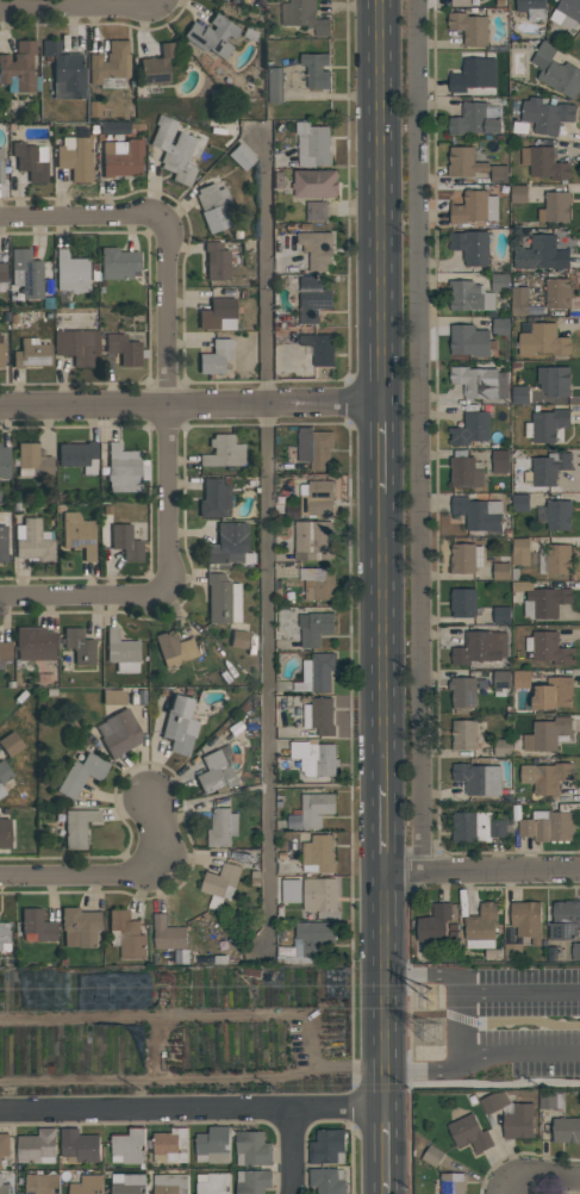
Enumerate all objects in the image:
road: (81, 2)
building: (531, 8)
building: (567, 13)
building: (304, 17)
building: (469, 27)
building: (211, 35)
building: (110, 62)
building: (157, 64)
building: (19, 66)
building: (316, 69)
building: (66, 70)
building: (555, 71)
building: (473, 75)
building: (274, 85)
building: (545, 116)
building: (475, 119)
building: (113, 128)
building: (312, 144)
building: (173, 149)
building: (241, 156)
building: (75, 157)
building: (121, 157)
building: (31, 160)
building: (464, 162)
building: (543, 163)
building: (1, 166)
building: (499, 174)
building: (314, 184)
building: (518, 194)
road: (379, 203)
building: (213, 206)
building: (474, 207)
building: (555, 207)
building: (316, 211)
road: (163, 229)
building: (470, 247)
building: (317, 249)
building: (541, 254)
building: (216, 260)
building: (118, 262)
building: (2, 272)
building: (70, 272)
building: (25, 273)
building: (499, 282)
building: (557, 293)
building: (470, 297)
building: (312, 299)
building: (519, 301)
building: (218, 313)
building: (500, 327)
building: (470, 341)
building: (543, 341)
building: (75, 342)
building: (123, 348)
building: (319, 348)
building: (0, 352)
building: (31, 354)
building: (216, 356)
building: (554, 380)
building: (480, 383)
building: (519, 394)
road: (189, 406)
building: (547, 425)
building: (469, 429)
road: (420, 436)
building: (314, 448)
road: (380, 449)
building: (223, 452)
building: (79, 455)
building: (32, 460)
building: (4, 461)
building: (500, 461)
building: (123, 468)
building: (549, 468)
building: (466, 471)
building: (214, 498)
building: (317, 498)
building: (520, 503)
building: (293, 511)
building: (478, 514)
building: (559, 515)
building: (79, 533)
building: (33, 540)
building: (312, 541)
building: (125, 542)
building: (229, 543)
building: (2, 545)
road: (267, 547)
building: (520, 552)
building: (464, 558)
building: (557, 560)
building: (501, 571)
road: (164, 582)
building: (317, 583)
building: (520, 586)
building: (222, 599)
building: (462, 602)
building: (545, 602)
building: (501, 615)
building: (314, 628)
building: (238, 638)
road: (382, 639)
building: (35, 642)
building: (79, 645)
building: (173, 647)
building: (480, 647)
building: (548, 648)
building: (121, 651)
building: (5, 653)
building: (316, 673)
building: (501, 679)
building: (522, 679)
building: (462, 691)
building: (554, 694)
building: (113, 696)
building: (319, 716)
building: (179, 725)
building: (118, 732)
building: (547, 734)
building: (463, 735)
building: (10, 742)
building: (503, 747)
building: (313, 758)
building: (216, 771)
building: (4, 772)
building: (81, 773)
building: (478, 778)
building: (545, 778)
building: (1, 790)
building: (314, 809)
building: (547, 826)
building: (76, 827)
building: (222, 827)
building: (476, 827)
road: (383, 828)
building: (6, 833)
building: (318, 856)
road: (116, 867)
road: (481, 872)
building: (220, 882)
building: (291, 891)
building: (319, 895)
building: (565, 920)
building: (526, 921)
building: (435, 924)
building: (36, 926)
building: (80, 927)
building: (481, 927)
building: (4, 932)
building: (168, 934)
building: (125, 935)
building: (311, 940)
building: (512, 952)
building: (575, 952)
road: (383, 991)
power tower: (437, 995)
road: (520, 995)
parking lot: (531, 1021)
road: (462, 1024)
crop: (177, 1028)
power tower: (438, 1032)
road: (520, 1055)
building: (550, 1100)
building: (493, 1102)
road: (188, 1108)
road: (338, 1109)
building: (518, 1121)
building: (566, 1130)
building: (469, 1133)
building: (4, 1145)
building: (212, 1145)
building: (79, 1146)
building: (127, 1146)
building: (170, 1146)
building: (326, 1146)
building: (37, 1148)
building: (252, 1149)
road: (385, 1151)
building: (432, 1156)
road: (541, 1173)
building: (328, 1180)
building: (252, 1181)
building: (39, 1183)
building: (127, 1183)
building: (170, 1183)
building: (213, 1183)
building: (453, 1183)
building: (87, 1184)
building: (2, 1187)

